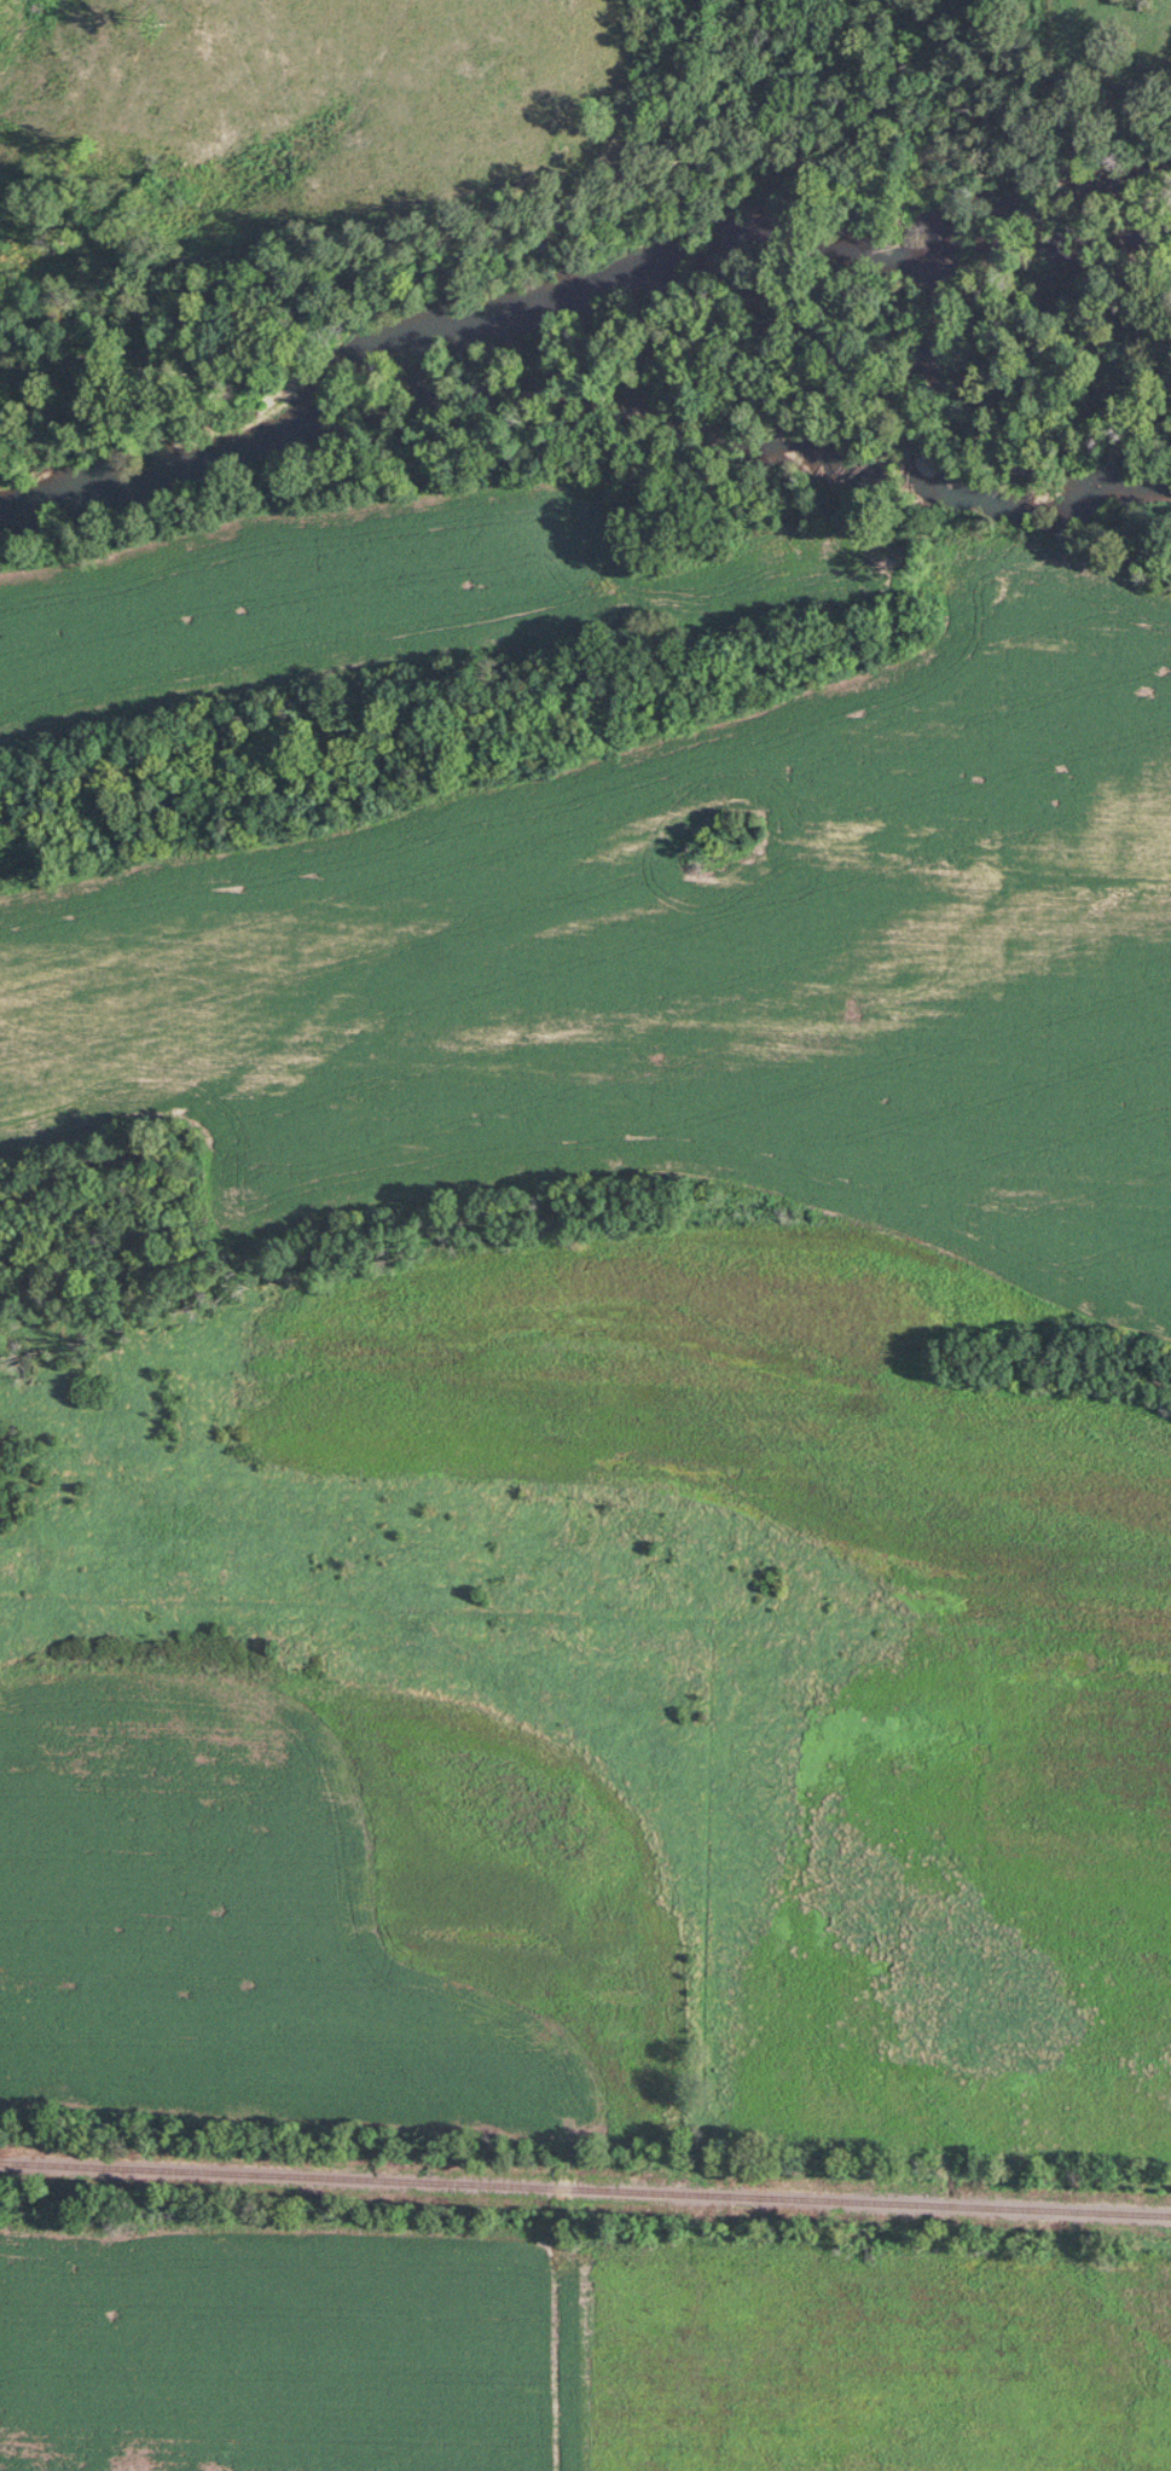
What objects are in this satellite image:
railway: (585, 2187)

